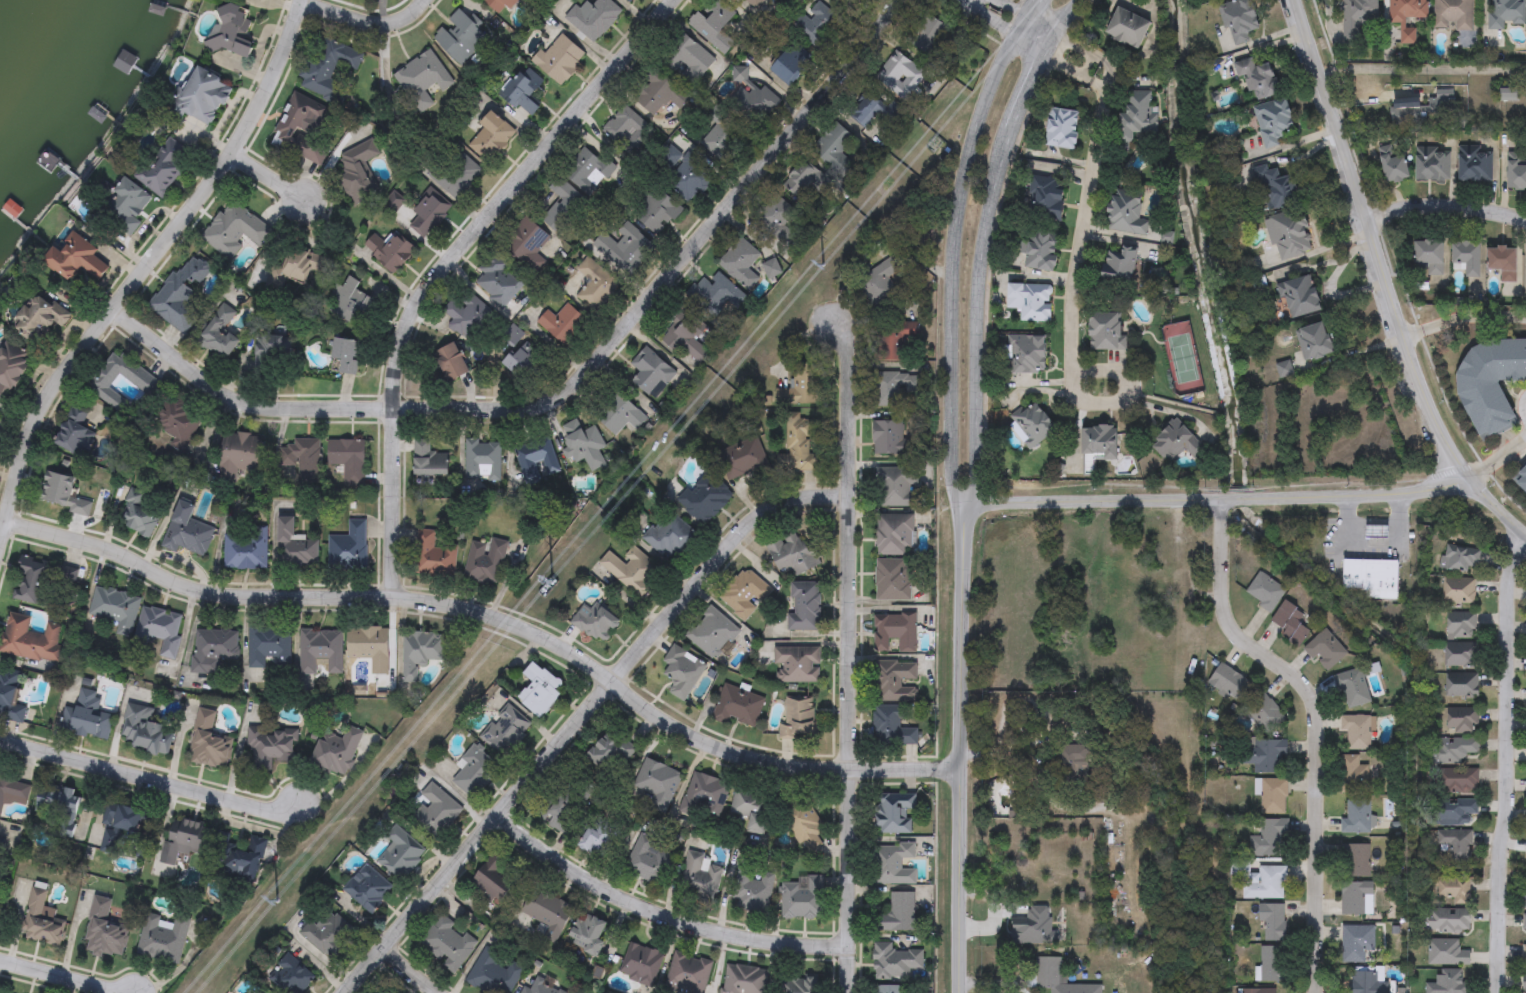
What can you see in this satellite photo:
building: (1212, 0)
building: (629, 1)
building: (500, 5)
building: (1506, 13)
building: (1453, 15)
road: (1026, 17)
building: (1407, 17)
building: (593, 18)
building: (1358, 18)
building: (1239, 21)
road: (365, 23)
building: (817, 26)
building: (715, 27)
road: (1006, 28)
building: (1129, 29)
building: (232, 32)
building: (925, 34)
building: (460, 38)
road: (1086, 53)
building: (560, 59)
building: (688, 60)
building: (791, 65)
building: (327, 68)
road: (1074, 70)
road: (1420, 71)
building: (902, 73)
building: (1259, 80)
building: (421, 82)
building: (523, 91)
building: (661, 95)
building: (203, 97)
building: (755, 104)
building: (865, 112)
building: (1139, 115)
building: (1274, 123)
building: (1063, 129)
building: (301, 130)
building: (627, 131)
building: (723, 133)
building: (491, 138)
building: (834, 149)
building: (1432, 164)
building: (1475, 164)
building: (1394, 167)
building: (164, 168)
building: (586, 170)
building: (358, 172)
building: (1516, 173)
building: (455, 175)
road: (267, 179)
building: (689, 179)
building: (804, 181)
building: (1277, 187)
building: (1046, 199)
building: (564, 206)
building: (126, 207)
building: (656, 211)
road: (1444, 212)
building: (776, 213)
building: (1126, 215)
building: (427, 217)
building: (235, 229)
building: (1289, 235)
building: (526, 243)
road: (983, 245)
road: (955, 246)
building: (625, 249)
building: (391, 253)
building: (1042, 253)
building: (1429, 256)
building: (1468, 258)
building: (77, 261)
building: (1503, 262)
road: (446, 264)
building: (740, 264)
power tower: (823, 265)
building: (297, 267)
building: (771, 267)
road: (144, 270)
road: (1382, 280)
building: (881, 281)
building: (498, 283)
building: (595, 285)
building: (184, 290)
building: (1299, 296)
building: (721, 298)
road: (1071, 301)
building: (1031, 303)
building: (352, 304)
building: (467, 317)
road: (1463, 318)
building: (39, 320)
building: (563, 325)
building: (1107, 333)
building: (220, 334)
building: (685, 334)
building: (514, 335)
building: (895, 341)
building: (1314, 342)
building: (273, 351)
building: (1029, 355)
building: (346, 357)
building: (451, 363)
building: (525, 363)
building: (11, 370)
building: (652, 373)
road: (573, 380)
building: (1490, 384)
building: (119, 385)
building: (801, 387)
building: (895, 389)
road: (845, 405)
building: (619, 414)
building: (177, 419)
building: (75, 435)
building: (891, 439)
building: (1100, 442)
building: (1178, 443)
building: (583, 445)
building: (801, 445)
road: (1499, 454)
building: (238, 456)
building: (535, 458)
building: (302, 459)
building: (742, 459)
building: (429, 460)
building: (482, 461)
building: (348, 463)
building: (1520, 476)
building: (897, 487)
building: (63, 494)
building: (705, 499)
road: (1219, 500)
building: (137, 515)
building: (186, 532)
building: (1376, 532)
gas station: (1376, 532)
building: (894, 535)
building: (668, 537)
road: (1371, 543)
road: (273, 546)
building: (295, 547)
building: (245, 549)
building: (348, 549)
building: (794, 555)
building: (433, 556)
building: (1461, 558)
building: (484, 561)
building: (631, 571)
building: (1371, 577)
building: (40, 580)
building: (893, 580)
power tower: (552, 583)
building: (1459, 590)
building: (1265, 591)
building: (744, 595)
building: (804, 607)
building: (114, 608)
road: (493, 616)
building: (596, 623)
building: (1290, 623)
building: (1461, 625)
building: (159, 630)
road: (633, 632)
building: (712, 633)
building: (895, 633)
building: (31, 641)
building: (269, 648)
building: (370, 648)
building: (321, 650)
building: (1325, 650)
building: (213, 651)
building: (420, 652)
building: (1461, 655)
road: (832, 662)
building: (797, 664)
building: (681, 671)
building: (895, 681)
building: (1230, 681)
building: (1462, 685)
building: (1353, 688)
building: (540, 690)
building: (10, 697)
building: (738, 707)
building: (1265, 711)
road: (581, 716)
building: (799, 718)
building: (1462, 720)
building: (89, 724)
building: (892, 726)
road: (1317, 728)
building: (145, 730)
building: (1358, 731)
building: (506, 733)
building: (207, 742)
road: (847, 744)
building: (270, 746)
building: (1462, 746)
road: (956, 751)
building: (336, 754)
building: (611, 755)
building: (1269, 755)
road: (1018, 764)
road: (1504, 768)
building: (474, 770)
building: (1354, 773)
building: (1460, 780)
road: (149, 781)
building: (657, 781)
building: (13, 790)
building: (1274, 795)
building: (705, 797)
building: (57, 804)
building: (751, 808)
building: (567, 810)
building: (1453, 810)
building: (434, 812)
building: (894, 814)
building: (1356, 815)
building: (123, 819)
building: (804, 825)
building: (1269, 838)
building: (598, 839)
building: (185, 840)
building: (1454, 845)
building: (400, 854)
building: (240, 858)
building: (1356, 860)
building: (647, 863)
building: (893, 864)
building: (700, 876)
building: (495, 881)
building: (1267, 884)
building: (367, 889)
building: (751, 889)
building: (1453, 890)
building: (802, 898)
building: (1357, 898)
building: (1525, 898)
power tower: (275, 903)
building: (547, 914)
building: (898, 914)
road: (661, 915)
building: (41, 919)
building: (1272, 921)
building: (1449, 921)
building: (1525, 926)
building: (328, 933)
building: (588, 933)
building: (106, 938)
building: (162, 938)
building: (447, 943)
building: (1353, 943)
building: (1447, 952)
building: (1524, 954)
building: (896, 962)
building: (1271, 963)
building: (640, 964)
road: (408, 972)
building: (493, 974)
building: (687, 974)
building: (290, 975)
road: (62, 977)
building: (1055, 978)
building: (744, 980)
road: (991, 982)
building: (1367, 982)
building: (1450, 982)
building: (801, 984)
building: (1525, 984)
building: (541, 987)
building: (890, 989)
building: (1259, 990)

